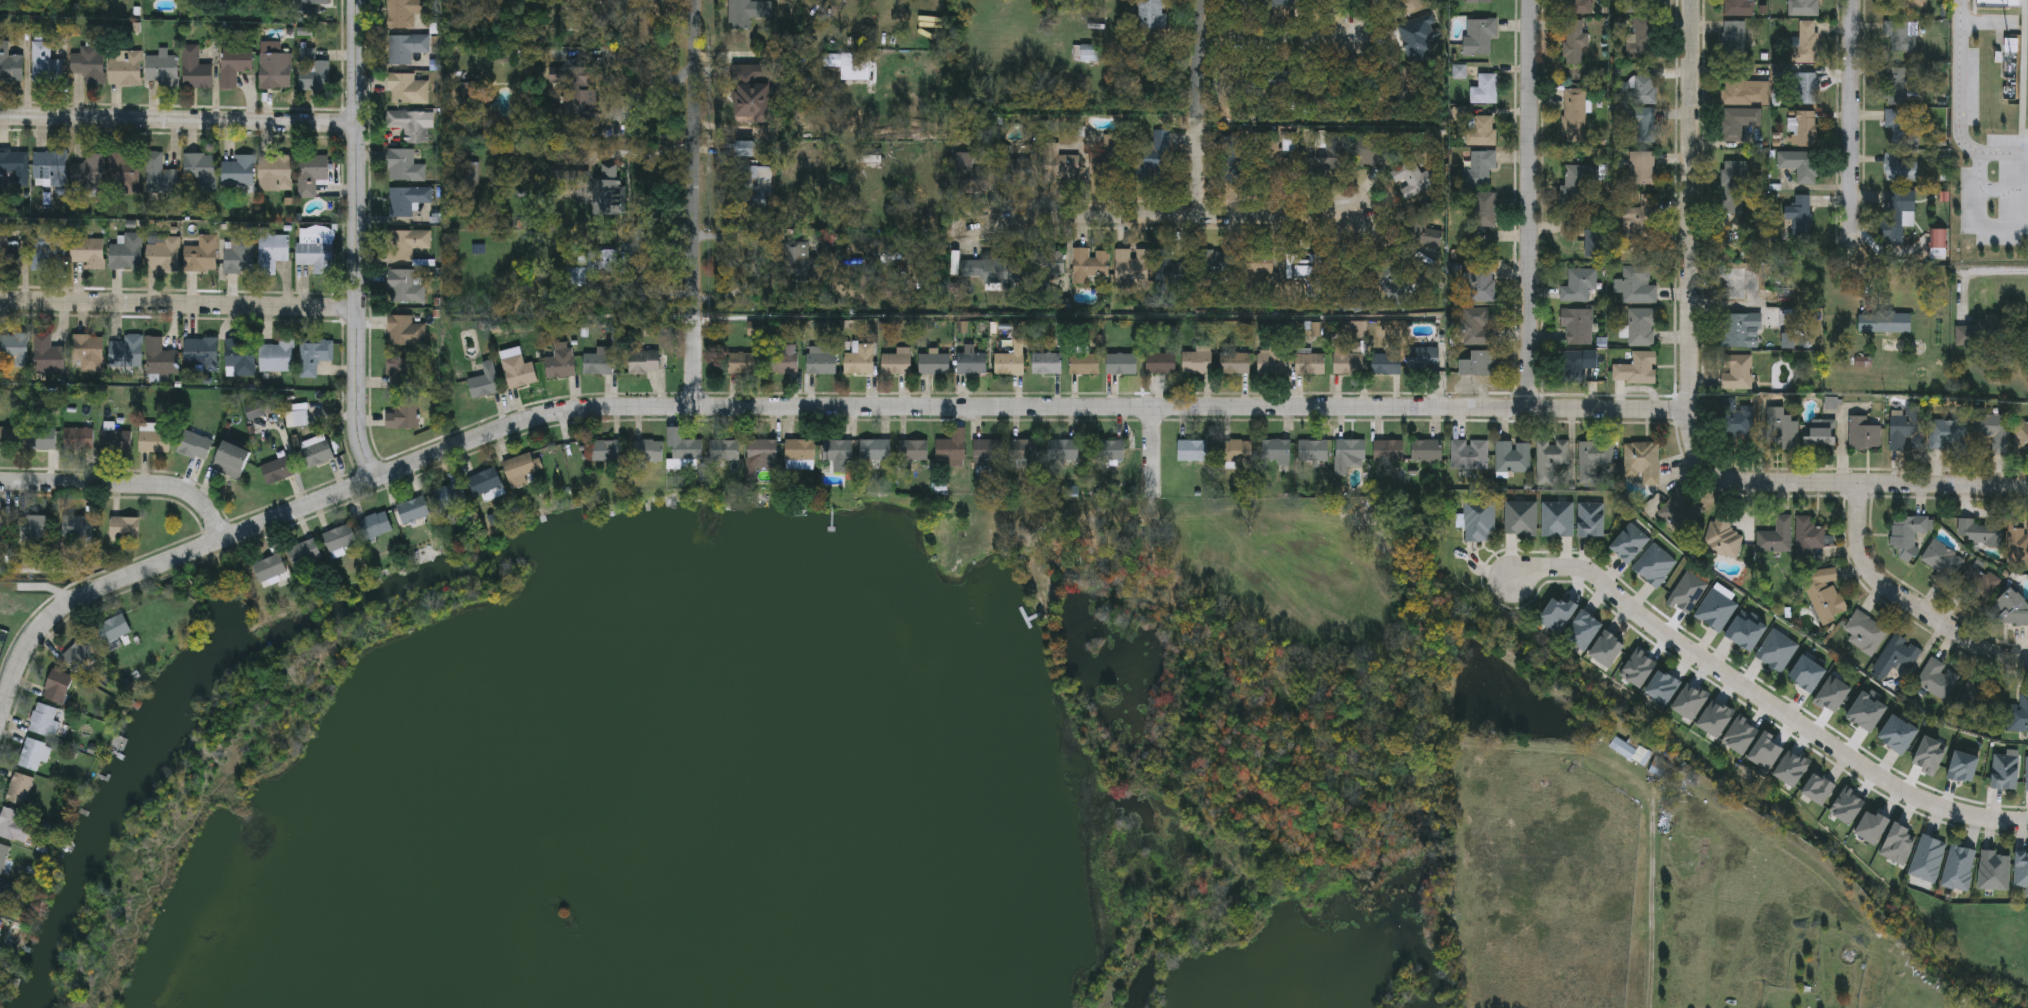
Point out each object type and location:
building: (1640, 0)
building: (1481, 1)
building: (314, 2)
building: (1912, 3)
building: (1578, 7)
building: (1738, 7)
building: (1803, 7)
building: (403, 12)
building: (749, 12)
building: (1149, 14)
road: (1272, 33)
building: (1639, 35)
building: (1479, 36)
building: (1899, 36)
building: (1734, 40)
building: (1805, 41)
building: (1574, 42)
building: (406, 47)
building: (1085, 52)
building: (832, 60)
building: (234, 62)
building: (10, 65)
building: (45, 65)
building: (88, 65)
building: (124, 68)
building: (161, 68)
building: (194, 68)
building: (275, 71)
building: (312, 71)
road: (1960, 79)
building: (565, 83)
building: (1898, 85)
building: (1806, 87)
building: (407, 89)
road: (649, 89)
building: (1483, 89)
building: (1642, 89)
building: (1743, 90)
building: (751, 93)
road: (1199, 107)
building: (1575, 116)
road: (179, 120)
road: (1852, 120)
building: (1738, 121)
building: (409, 124)
building: (1644, 125)
building: (1900, 125)
building: (1806, 128)
building: (1481, 130)
building: (744, 149)
building: (1368, 150)
building: (1152, 155)
road: (652, 158)
building: (1799, 164)
building: (404, 166)
building: (13, 167)
building: (49, 167)
building: (1007, 167)
building: (1062, 167)
building: (1481, 167)
building: (1641, 168)
building: (1898, 168)
building: (199, 169)
building: (238, 170)
building: (124, 171)
building: (87, 172)
building: (275, 172)
building: (1969, 173)
building: (159, 174)
building: (311, 174)
building: (1576, 184)
building: (1735, 185)
building: (751, 186)
road: (1980, 186)
building: (608, 191)
road: (2002, 191)
building: (406, 201)
road: (696, 203)
road: (1531, 204)
building: (1799, 208)
building: (1484, 209)
road: (1157, 215)
building: (1894, 217)
building: (1638, 224)
building: (1427, 234)
road: (358, 241)
building: (406, 243)
building: (1594, 243)
building: (46, 246)
building: (316, 249)
building: (87, 251)
building: (126, 251)
building: (272, 251)
building: (201, 254)
building: (238, 254)
building: (9, 255)
building: (162, 255)
road: (1691, 257)
building: (796, 260)
building: (1216, 261)
building: (1257, 263)
building: (1088, 264)
building: (591, 265)
road: (757, 265)
building: (1130, 266)
building: (983, 269)
building: (1177, 272)
road: (1992, 272)
building: (1738, 283)
building: (1479, 284)
building: (1579, 285)
building: (1635, 285)
building: (404, 287)
road: (179, 305)
building: (1884, 322)
building: (1476, 326)
building: (1576, 326)
building: (1641, 326)
building: (1739, 329)
building: (405, 331)
building: (1980, 332)
building: (14, 349)
building: (126, 351)
building: (87, 353)
building: (46, 354)
building: (200, 354)
building: (313, 355)
building: (277, 356)
building: (159, 357)
building: (240, 357)
building: (785, 360)
building: (1348, 360)
building: (1422, 360)
building: (820, 361)
building: (858, 361)
building: (1196, 361)
building: (560, 363)
building: (643, 363)
building: (971, 363)
building: (1045, 363)
building: (1120, 363)
building: (1160, 363)
building: (1233, 363)
building: (1476, 363)
building: (742, 364)
building: (933, 364)
building: (1008, 364)
building: (1084, 364)
building: (1269, 364)
building: (1308, 364)
building: (1385, 364)
building: (1576, 364)
building: (597, 365)
building: (895, 365)
building: (1635, 368)
building: (516, 371)
building: (1736, 371)
building: (402, 373)
building: (484, 382)
road: (792, 407)
building: (256, 409)
building: (403, 414)
building: (296, 416)
building: (1738, 420)
building: (1779, 425)
building: (1906, 429)
building: (1818, 432)
building: (1993, 432)
building: (1862, 433)
building: (1946, 434)
building: (44, 436)
building: (2021, 437)
building: (8, 438)
building: (78, 438)
building: (115, 440)
building: (154, 441)
road: (564, 444)
building: (194, 446)
building: (682, 446)
building: (950, 446)
building: (874, 449)
building: (1023, 449)
building: (1349, 449)
building: (315, 450)
building: (723, 450)
building: (911, 450)
building: (1062, 450)
building: (1108, 450)
building: (1191, 450)
building: (1236, 450)
building: (1312, 450)
building: (1386, 450)
building: (605, 451)
building: (647, 451)
building: (987, 451)
building: (1275, 451)
building: (1425, 451)
building: (762, 454)
building: (799, 454)
building: (838, 454)
building: (1468, 454)
building: (1512, 456)
building: (1592, 459)
building: (231, 460)
road: (1156, 460)
building: (1641, 461)
building: (1550, 462)
building: (519, 469)
building: (277, 470)
building: (484, 482)
road: (1889, 484)
road: (124, 485)
building: (449, 494)
building: (412, 509)
building: (1683, 511)
building: (1520, 518)
building: (1556, 519)
building: (1590, 519)
building: (1478, 521)
building: (2, 524)
building: (374, 524)
building: (77, 526)
building: (32, 527)
building: (124, 527)
building: (1979, 532)
building: (1809, 533)
building: (1907, 534)
building: (1722, 536)
building: (1775, 536)
building: (339, 538)
building: (2019, 542)
building: (1629, 543)
building: (303, 554)
building: (1942, 562)
building: (1654, 565)
building: (269, 568)
building: (1975, 585)
building: (1823, 597)
road: (1907, 601)
building: (2010, 608)
building: (1557, 614)
building: (113, 630)
building: (1582, 630)
building: (1864, 632)
building: (1607, 649)
building: (1777, 650)
building: (78, 652)
building: (1896, 656)
building: (1937, 679)
building: (57, 686)
building: (1662, 687)
road: (1764, 700)
building: (1978, 704)
building: (2018, 715)
building: (44, 720)
building: (1628, 750)
building: (33, 755)
building: (1661, 770)
building: (2004, 771)
building: (2026, 774)
building: (18, 789)
building: (14, 825)
building: (3, 856)
building: (1927, 858)
building: (1958, 867)
building: (2021, 869)
building: (1994, 870)
building: (8, 898)
road: (1653, 904)
building: (0, 923)

